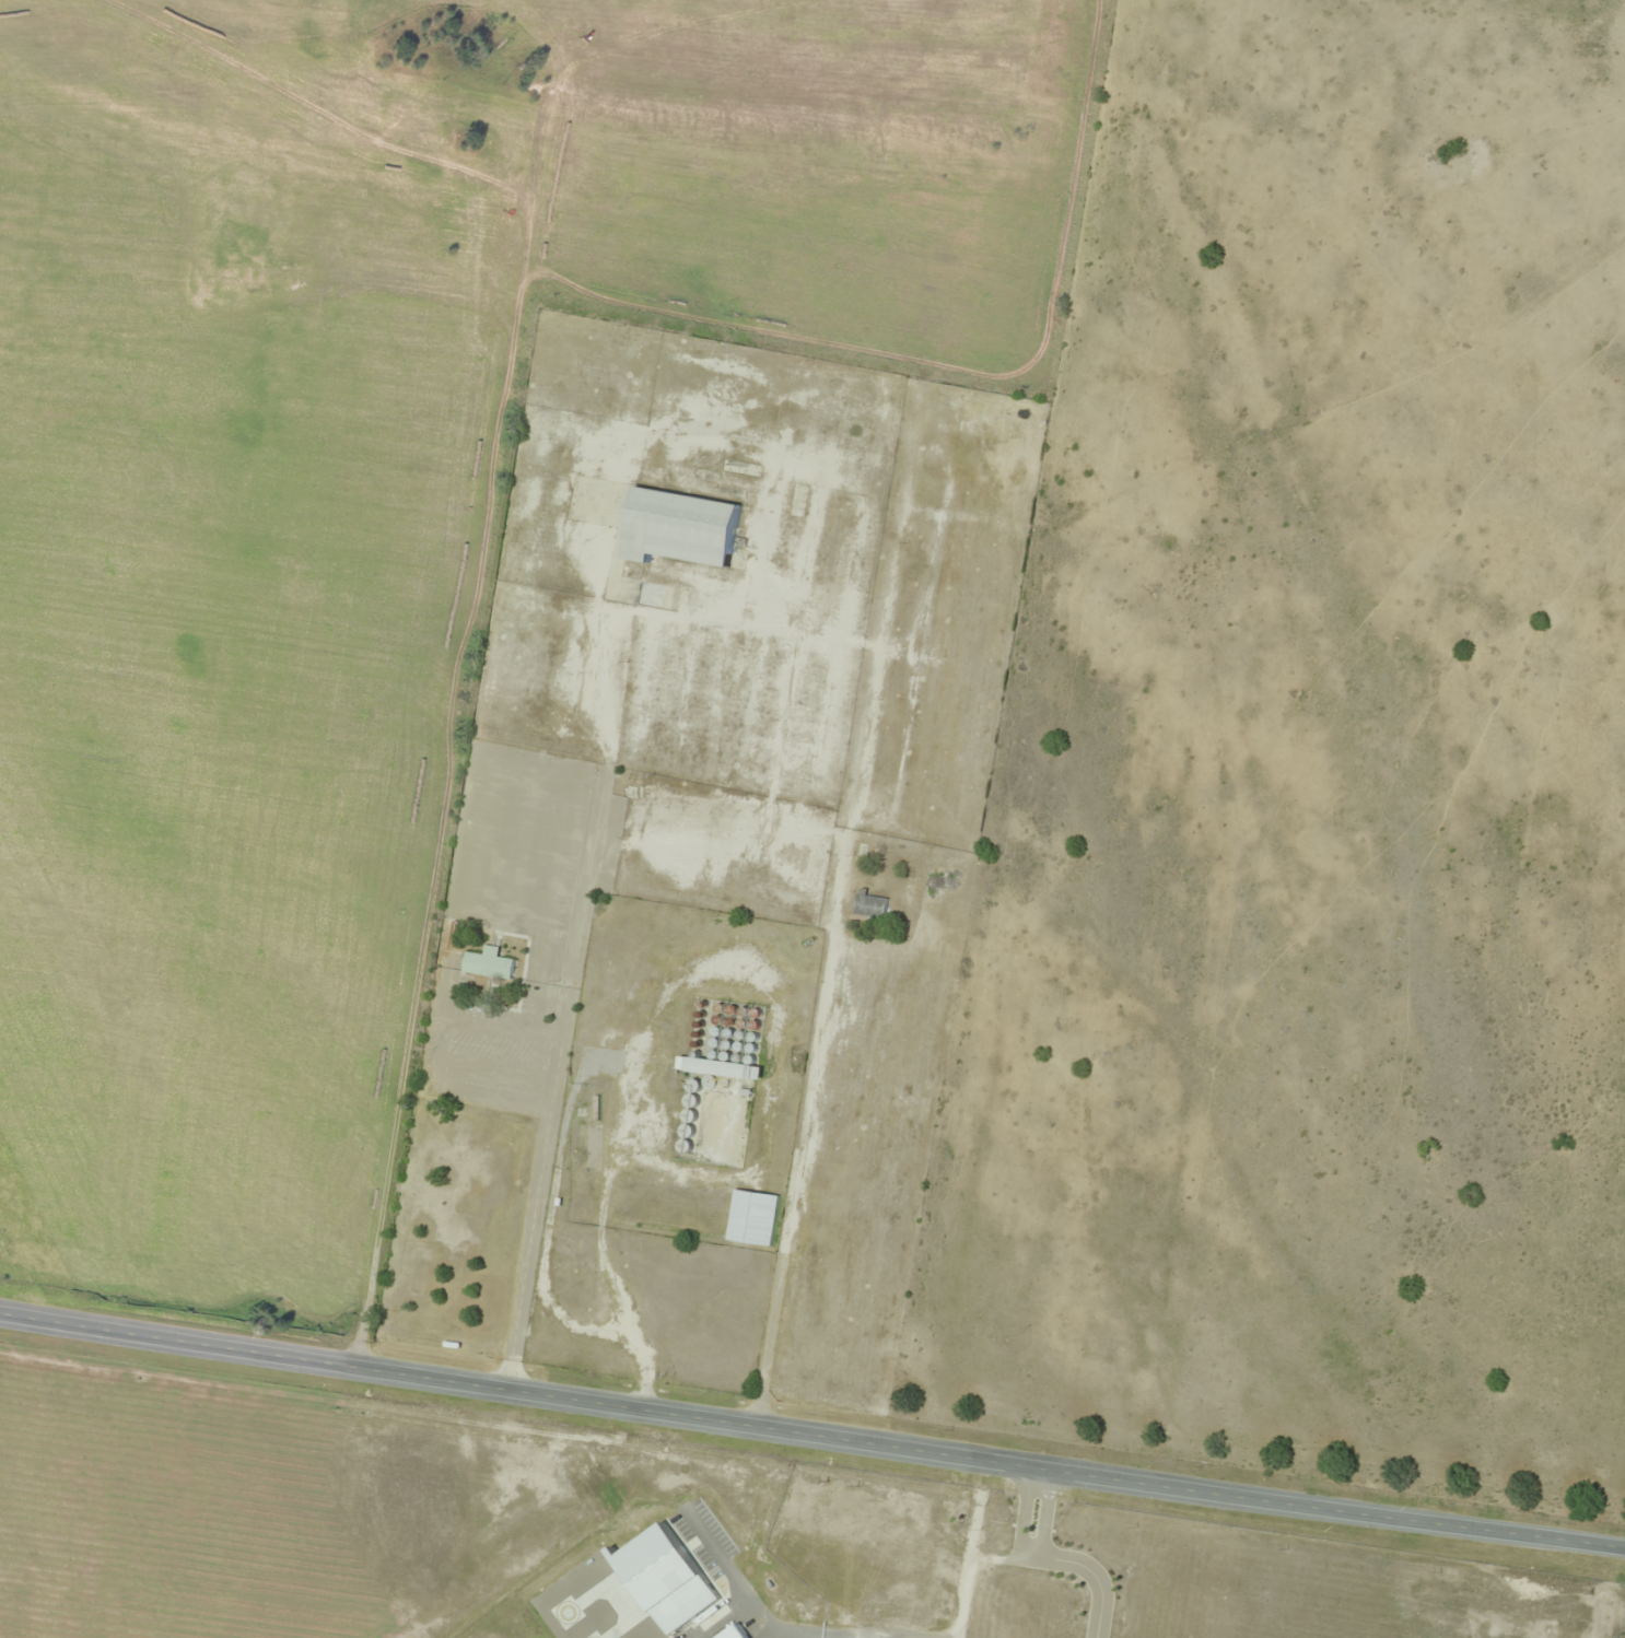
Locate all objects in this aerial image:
building: (676, 527)
road: (449, 739)
building: (944, 899)
building: (867, 904)
building: (484, 962)
building: (723, 1079)
road: (551, 1080)
building: (577, 1147)
road: (797, 1157)
building: (632, 1212)
building: (750, 1217)
road: (811, 1435)
road: (1020, 1512)
road: (1045, 1516)
airport: (613, 1537)
road: (1022, 1558)
road: (1094, 1578)
airport apron: (594, 1601)
building: (732, 1633)

